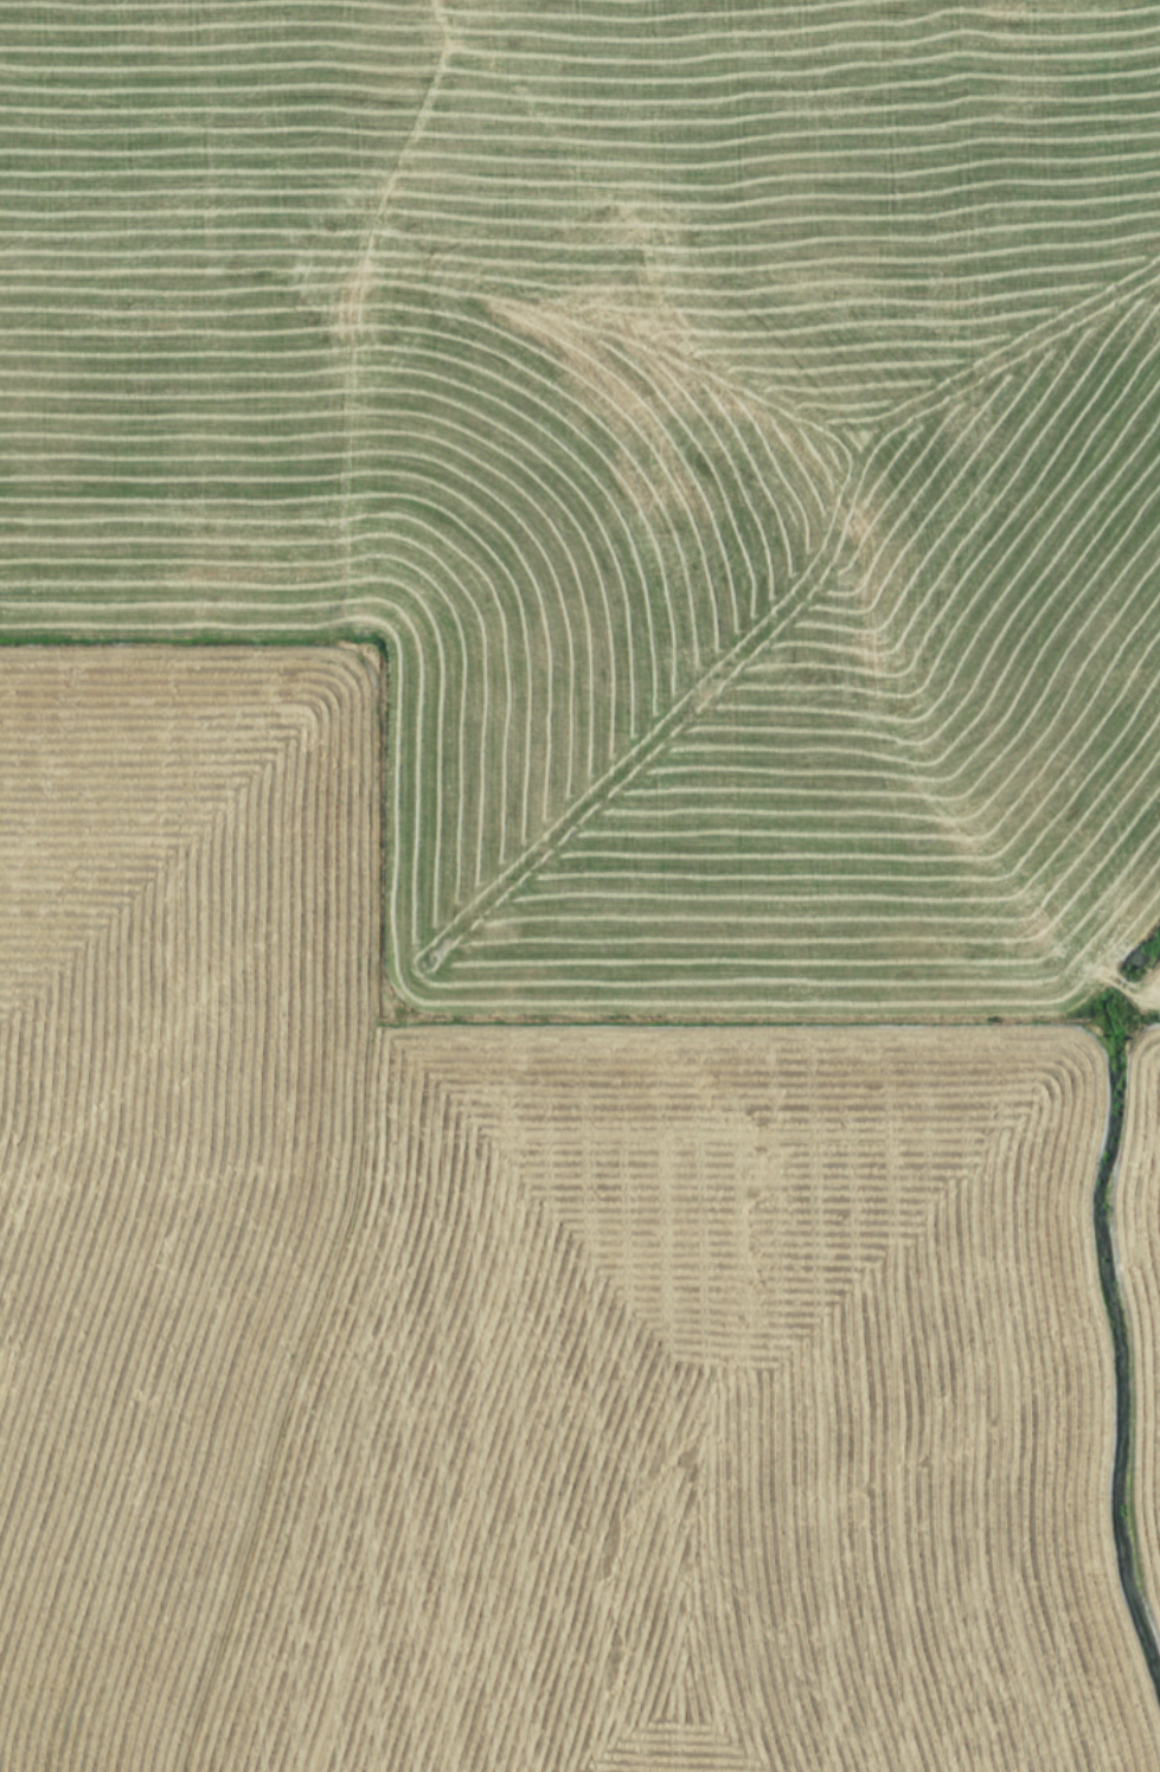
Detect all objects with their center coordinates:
crop: (579, 886)

